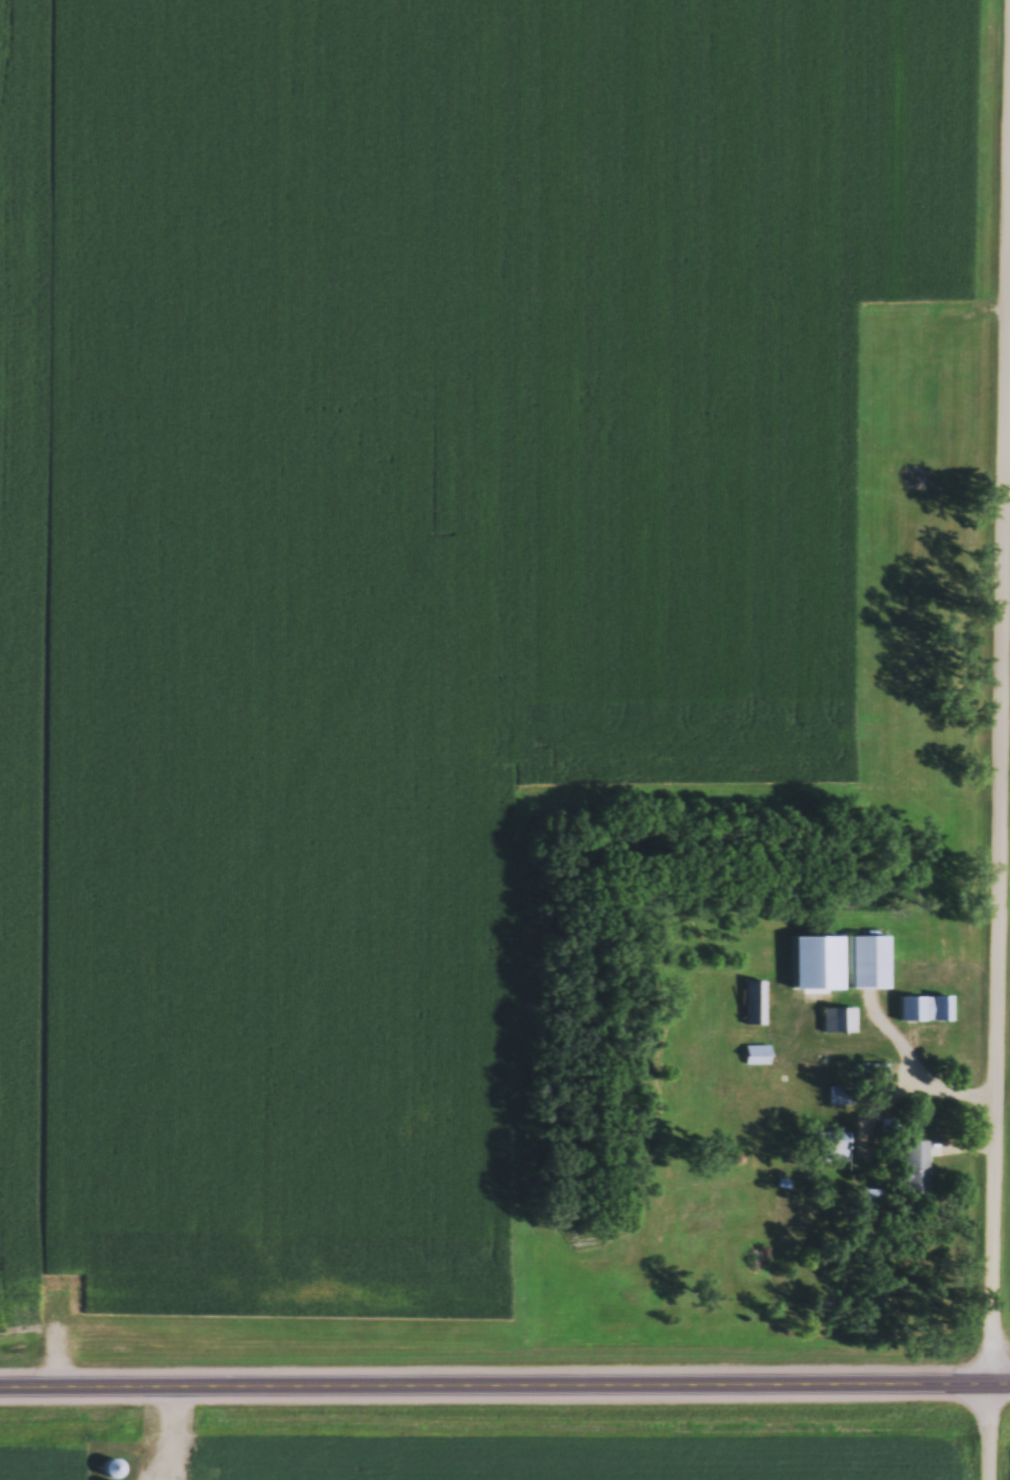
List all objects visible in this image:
road: (1000, 780)
building: (870, 964)
building: (752, 1005)
building: (923, 1011)
building: (834, 1023)
road: (920, 1064)
building: (842, 1098)
building: (784, 1186)
building: (803, 1245)
road: (504, 1385)
building: (113, 1471)

